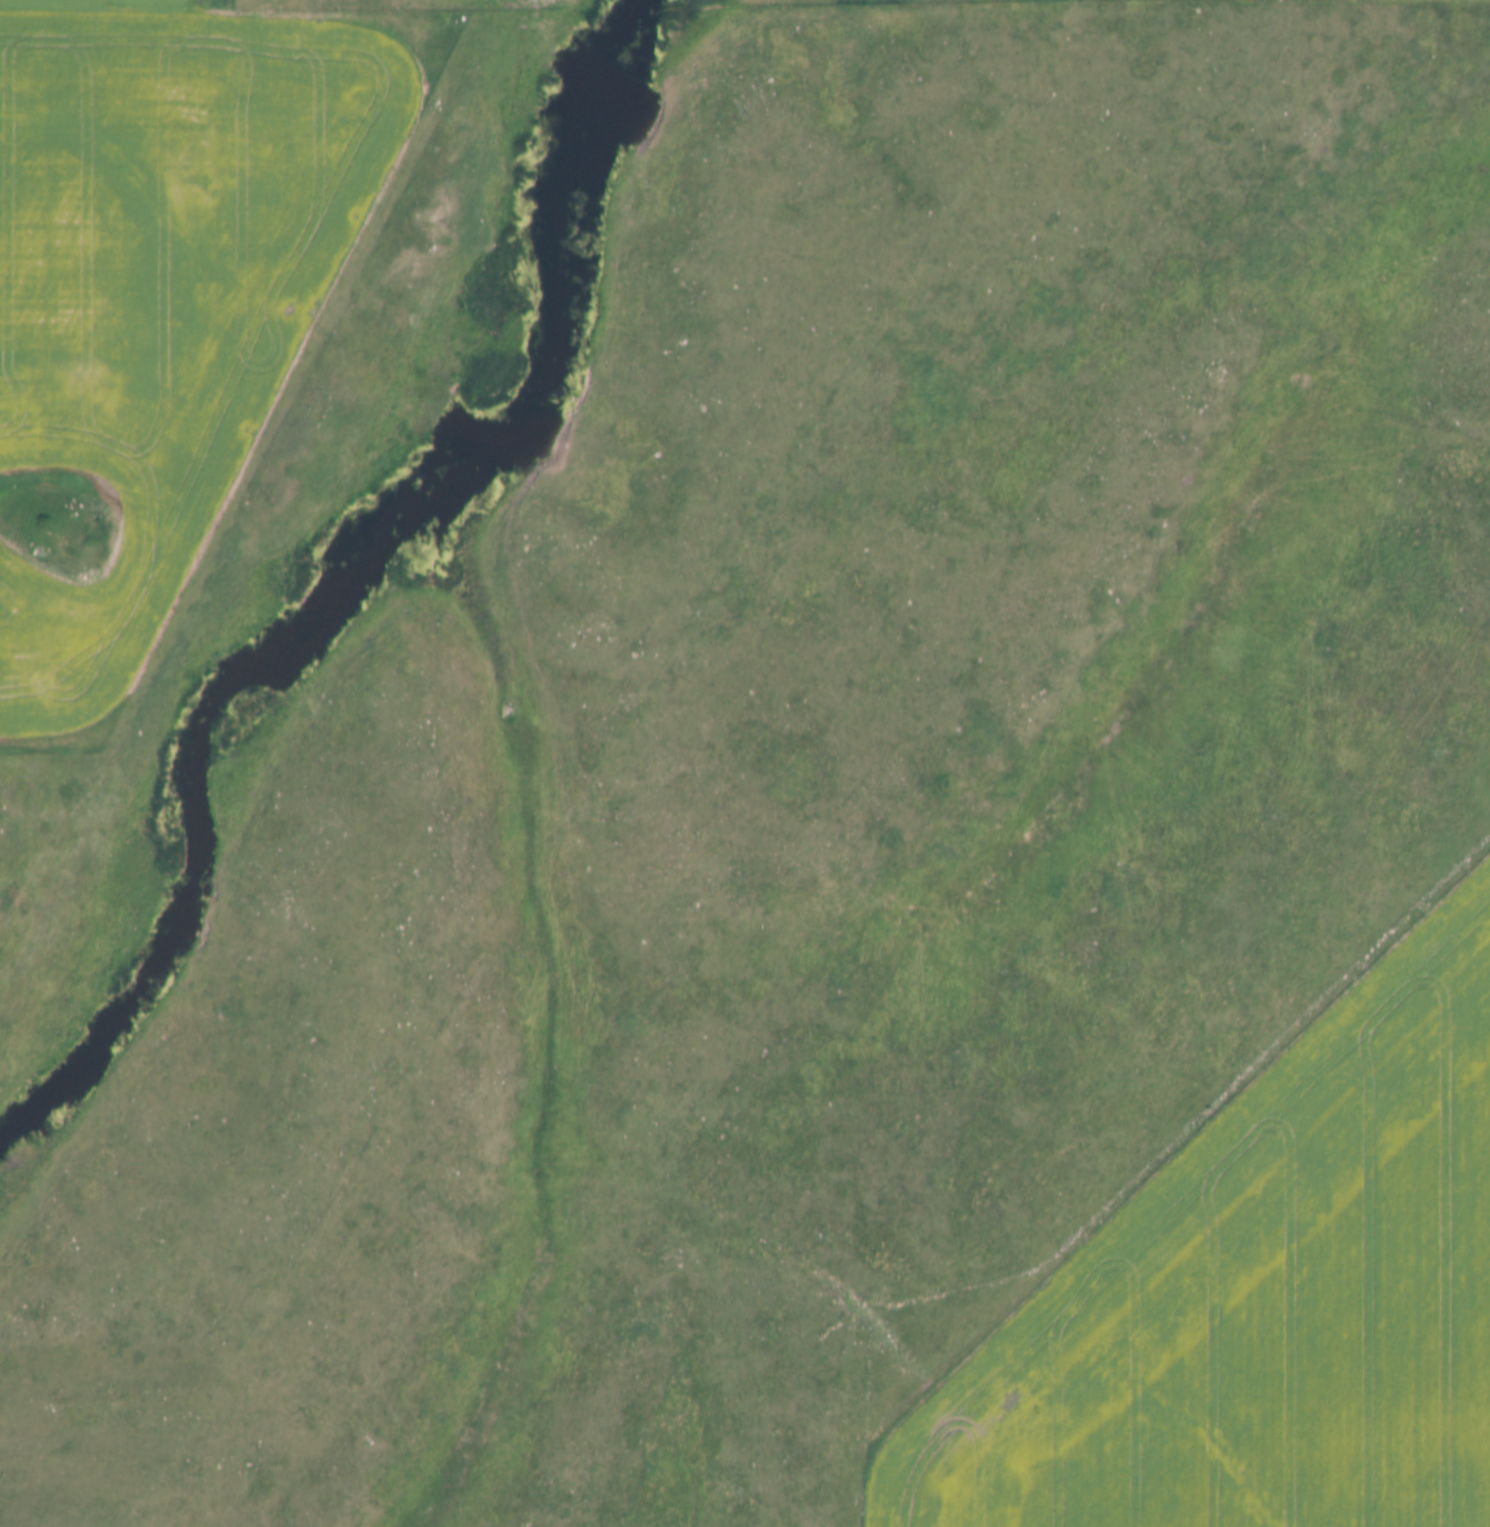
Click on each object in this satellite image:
road: (222, 21)

